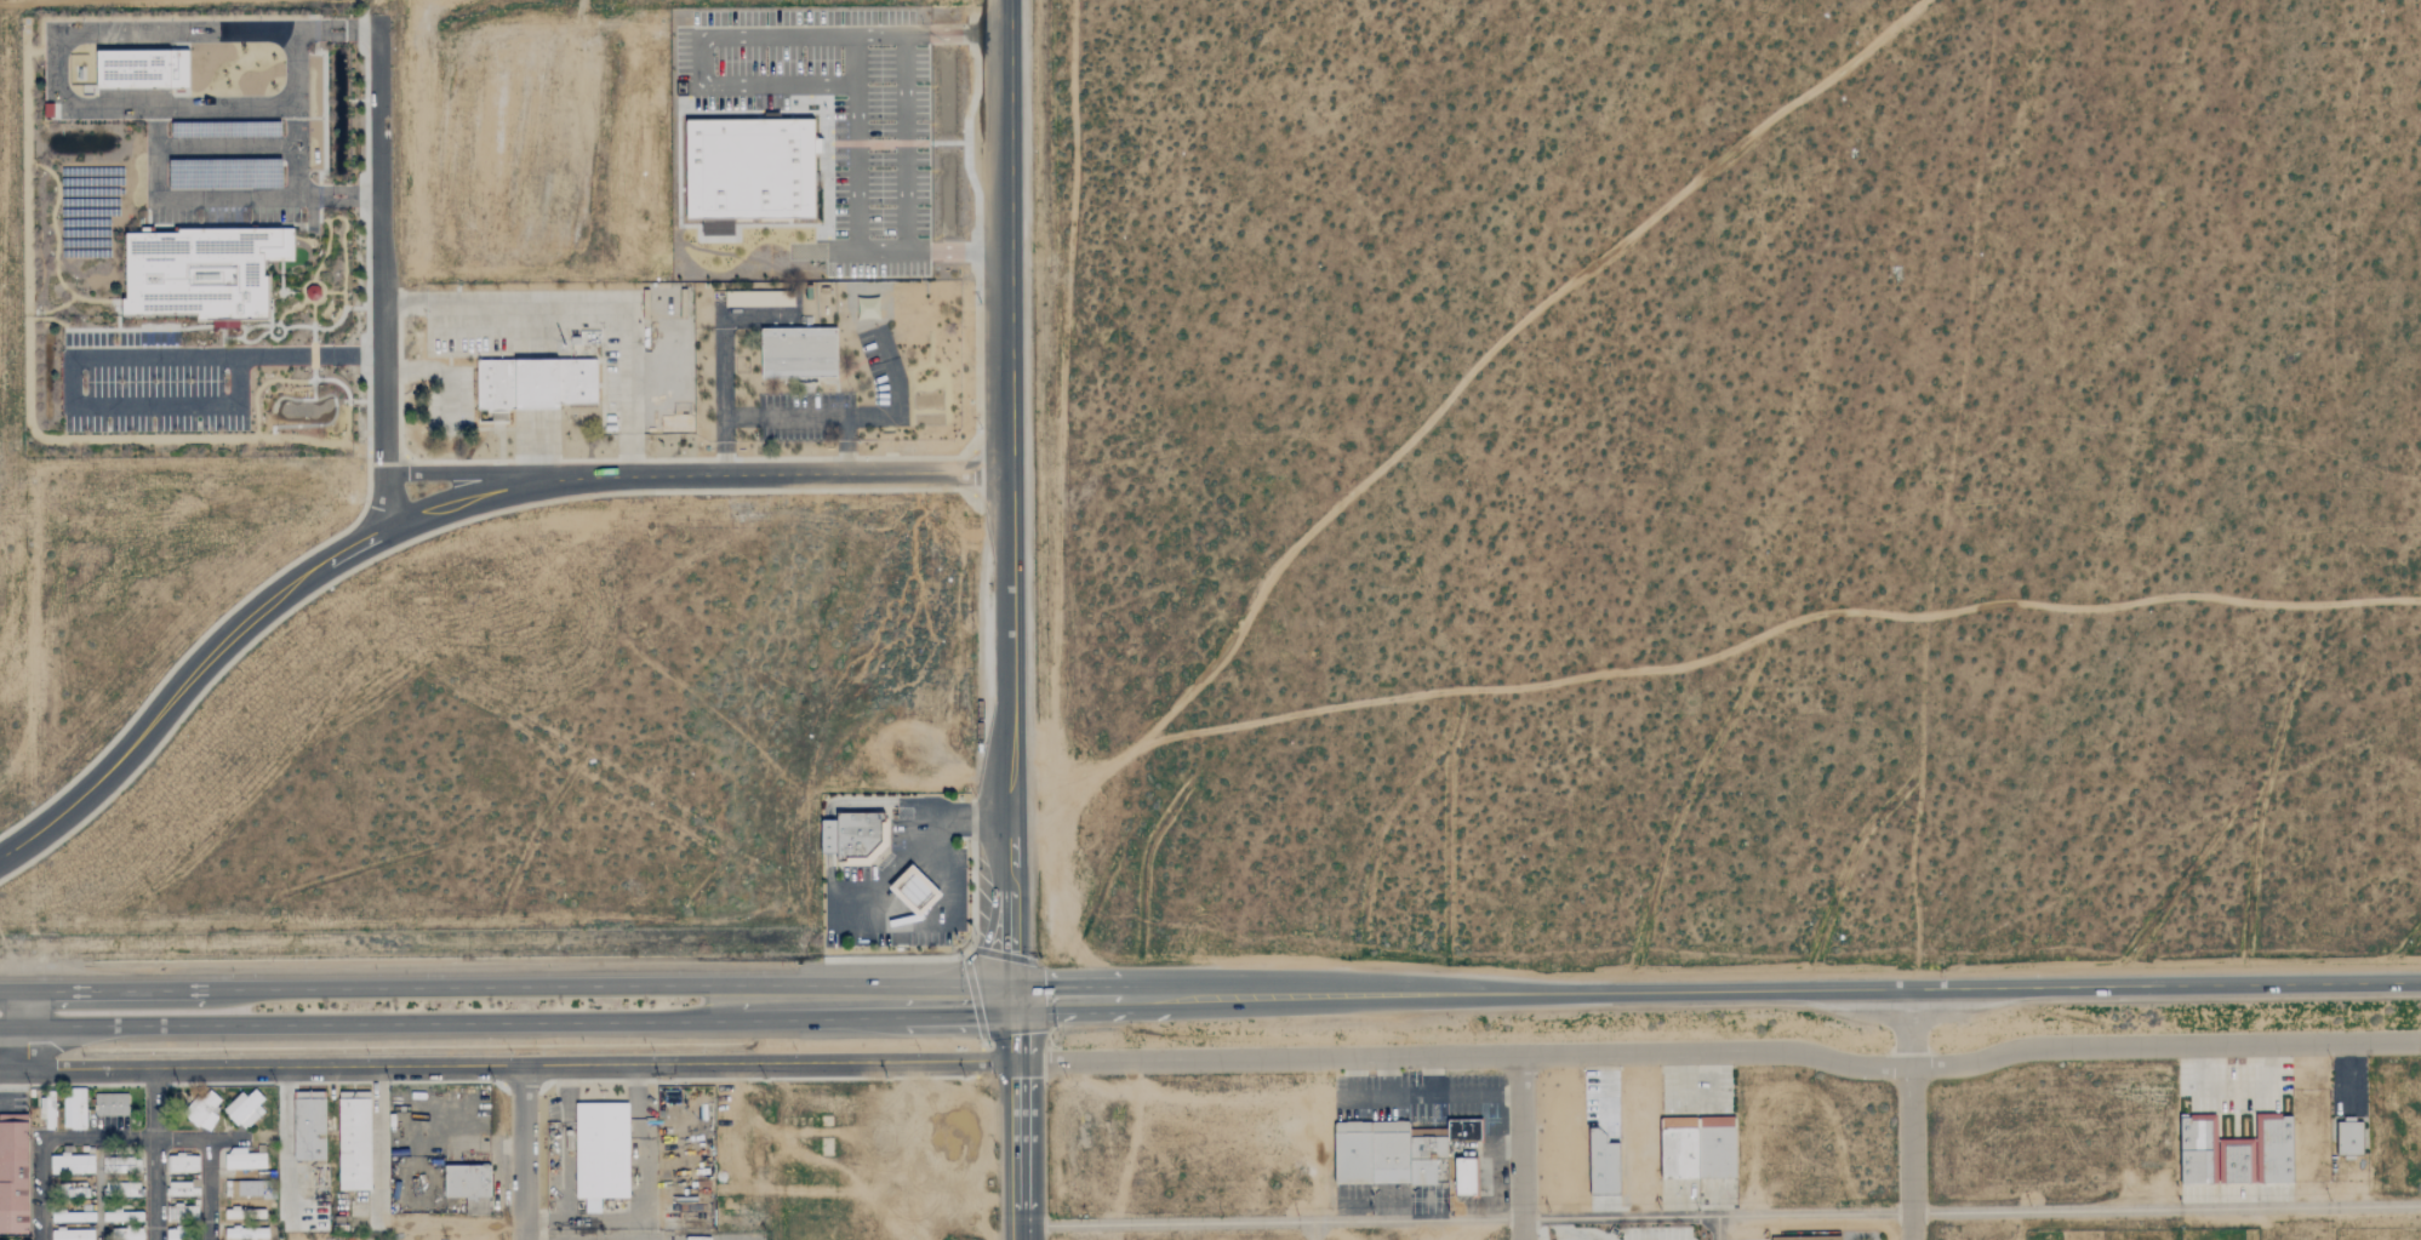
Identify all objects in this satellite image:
road: (857, 59)
building: (142, 70)
road: (760, 85)
road: (904, 142)
building: (750, 172)
road: (274, 200)
road: (381, 245)
building: (202, 273)
road: (586, 309)
building: (799, 354)
road: (88, 356)
road: (442, 371)
building: (532, 385)
road: (898, 399)
road: (783, 413)
road: (533, 445)
road: (458, 473)
road: (383, 497)
road: (1009, 499)
road: (440, 505)
road: (827, 810)
building: (855, 836)
road: (885, 862)
parking lot: (903, 882)
gas station: (913, 890)
road: (879, 891)
building: (915, 892)
road: (510, 984)
road: (1934, 989)
road: (1312, 995)
road: (1098, 996)
traffic signals: (1020, 999)
road: (798, 1019)
road: (941, 1021)
road: (369, 1023)
road: (17, 1027)
road: (1724, 1053)
road: (510, 1067)
building: (110, 1104)
road: (156, 1105)
building: (74, 1108)
building: (245, 1108)
building: (47, 1110)
building: (202, 1112)
road: (1911, 1114)
road: (1023, 1119)
building: (309, 1125)
building: (1463, 1131)
building: (2351, 1137)
road: (99, 1139)
road: (182, 1139)
road: (225, 1139)
building: (354, 1139)
building: (1428, 1147)
building: (1698, 1147)
road: (1523, 1148)
building: (603, 1149)
building: (2196, 1149)
building: (2273, 1149)
building: (1353, 1152)
building: (1391, 1152)
road: (523, 1153)
building: (244, 1160)
building: (2234, 1161)
building: (182, 1162)
building: (72, 1164)
building: (1603, 1165)
building: (120, 1166)
building: (1422, 1171)
building: (1464, 1176)
building: (15, 1177)
building: (467, 1181)
building: (242, 1188)
road: (42, 1189)
building: (121, 1189)
building: (182, 1189)
road: (209, 1189)
road: (156, 1190)
road: (2165, 1208)
building: (122, 1216)
road: (1717, 1216)
building: (67, 1217)
road: (1273, 1222)
road: (1718, 1228)
road: (1313, 1230)
building: (246, 1233)
building: (72, 1234)
building: (182, 1234)
building: (1795, 1238)
building: (1838, 1238)

